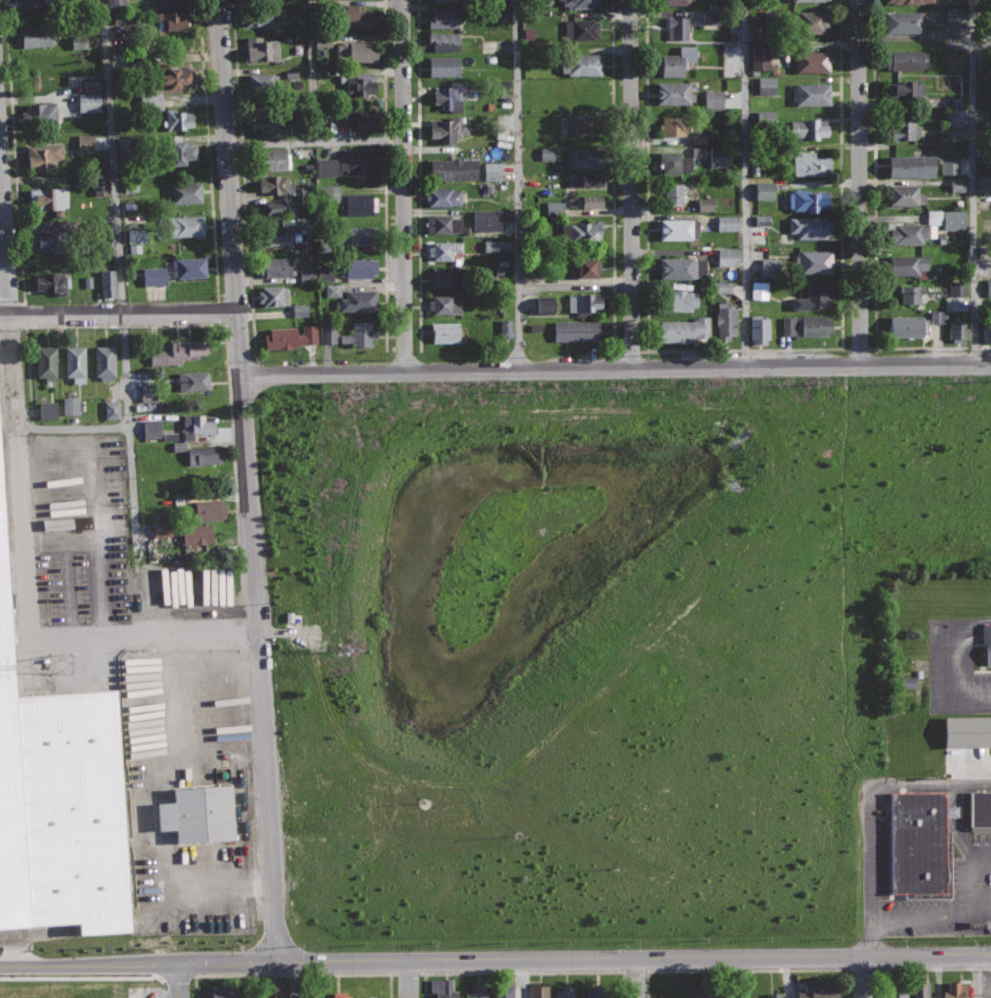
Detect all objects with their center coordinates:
building: (445, 0)
building: (803, 0)
building: (909, 1)
building: (671, 2)
building: (167, 3)
building: (579, 3)
building: (115, 4)
building: (34, 6)
building: (498, 14)
building: (256, 16)
building: (357, 17)
building: (445, 17)
building: (710, 17)
building: (954, 18)
building: (172, 19)
building: (811, 21)
building: (904, 21)
building: (301, 23)
building: (677, 27)
building: (581, 29)
building: (38, 34)
building: (528, 36)
building: (177, 38)
building: (443, 40)
building: (262, 48)
building: (358, 51)
building: (683, 58)
building: (759, 58)
building: (905, 59)
building: (813, 61)
building: (581, 63)
building: (444, 65)
road: (314, 70)
building: (172, 76)
building: (263, 82)
building: (359, 82)
building: (765, 85)
building: (89, 87)
building: (905, 90)
building: (673, 93)
building: (812, 93)
building: (450, 94)
building: (712, 99)
building: (150, 102)
building: (87, 103)
building: (40, 114)
building: (765, 117)
building: (178, 118)
building: (360, 118)
building: (956, 118)
building: (267, 120)
building: (582, 123)
building: (671, 125)
building: (808, 127)
building: (449, 128)
building: (901, 128)
building: (698, 138)
road: (314, 140)
building: (84, 143)
building: (101, 143)
building: (124, 149)
road: (208, 150)
road: (14, 151)
building: (179, 152)
building: (548, 153)
building: (44, 155)
building: (272, 158)
building: (587, 158)
building: (357, 160)
building: (718, 161)
building: (675, 162)
building: (810, 163)
building: (912, 165)
building: (948, 167)
building: (325, 168)
building: (454, 168)
building: (491, 171)
road: (614, 174)
road: (385, 175)
road: (418, 175)
road: (244, 179)
building: (586, 179)
road: (975, 182)
building: (276, 183)
road: (745, 183)
road: (859, 183)
road: (632, 184)
building: (100, 185)
road: (518, 185)
building: (957, 185)
building: (983, 185)
road: (403, 186)
building: (763, 191)
building: (186, 192)
building: (671, 192)
building: (328, 194)
building: (905, 194)
building: (444, 196)
building: (51, 199)
building: (807, 199)
building: (585, 201)
building: (359, 203)
building: (704, 204)
building: (279, 206)
building: (553, 208)
building: (953, 220)
building: (485, 221)
building: (761, 221)
building: (443, 223)
building: (727, 223)
building: (185, 225)
building: (811, 226)
building: (679, 228)
building: (916, 229)
building: (583, 231)
road: (874, 232)
building: (47, 233)
building: (285, 233)
building: (362, 234)
building: (134, 236)
building: (496, 246)
building: (133, 248)
building: (445, 249)
building: (727, 257)
building: (816, 261)
building: (908, 263)
building: (277, 265)
building: (189, 266)
building: (359, 267)
building: (586, 267)
building: (682, 267)
building: (768, 268)
building: (324, 273)
building: (305, 276)
building: (152, 277)
building: (445, 277)
building: (52, 282)
building: (108, 283)
road: (122, 283)
building: (721, 287)
building: (988, 288)
road: (9, 290)
building: (958, 290)
building: (331, 291)
building: (758, 291)
building: (911, 293)
building: (274, 295)
building: (814, 296)
building: (679, 299)
building: (358, 300)
building: (584, 303)
building: (446, 304)
building: (543, 307)
building: (299, 311)
road: (118, 315)
building: (937, 317)
building: (726, 320)
building: (805, 323)
building: (906, 327)
building: (759, 328)
building: (959, 328)
building: (505, 329)
building: (684, 329)
building: (577, 330)
building: (986, 331)
building: (446, 332)
building: (361, 333)
building: (328, 334)
building: (281, 337)
road: (742, 350)
building: (179, 351)
building: (46, 360)
building: (77, 362)
building: (105, 362)
road: (615, 369)
building: (193, 380)
road: (749, 388)
building: (147, 398)
building: (70, 406)
building: (46, 410)
building: (110, 410)
road: (879, 412)
road: (321, 423)
building: (197, 425)
road: (73, 427)
building: (150, 429)
road: (543, 452)
building: (205, 456)
road: (807, 472)
road: (247, 480)
road: (36, 498)
road: (98, 508)
building: (210, 509)
building: (161, 528)
building: (198, 533)
road: (61, 538)
parking lot: (106, 544)
road: (195, 578)
road: (844, 582)
road: (67, 589)
road: (290, 635)
road: (37, 641)
building: (986, 643)
road: (942, 666)
parking lot: (956, 668)
building: (906, 682)
road: (68, 684)
building: (967, 730)
road: (344, 731)
road: (203, 742)
road: (960, 755)
parking lot: (967, 762)
road: (141, 779)
road: (924, 786)
parking lot: (188, 787)
building: (59, 800)
building: (980, 809)
building: (198, 814)
building: (918, 843)
road: (966, 854)
parking lot: (925, 858)
road: (982, 865)
road: (871, 880)
road: (925, 914)
road: (495, 959)
road: (917, 968)
road: (750, 969)
road: (524, 971)
road: (294, 974)
road: (979, 976)
road: (77, 977)
road: (865, 977)
road: (410, 978)
road: (638, 978)
road: (294, 979)
road: (177, 980)
building: (444, 988)
building: (272, 989)
building: (502, 989)
building: (921, 989)
building: (956, 989)
building: (818, 990)
building: (222, 991)
building: (539, 991)
building: (566, 991)
building: (597, 991)
building: (895, 991)
building: (477, 992)
building: (732, 993)
building: (310, 994)
building: (339, 994)
building: (703, 995)
building: (774, 995)
building: (367, 997)

